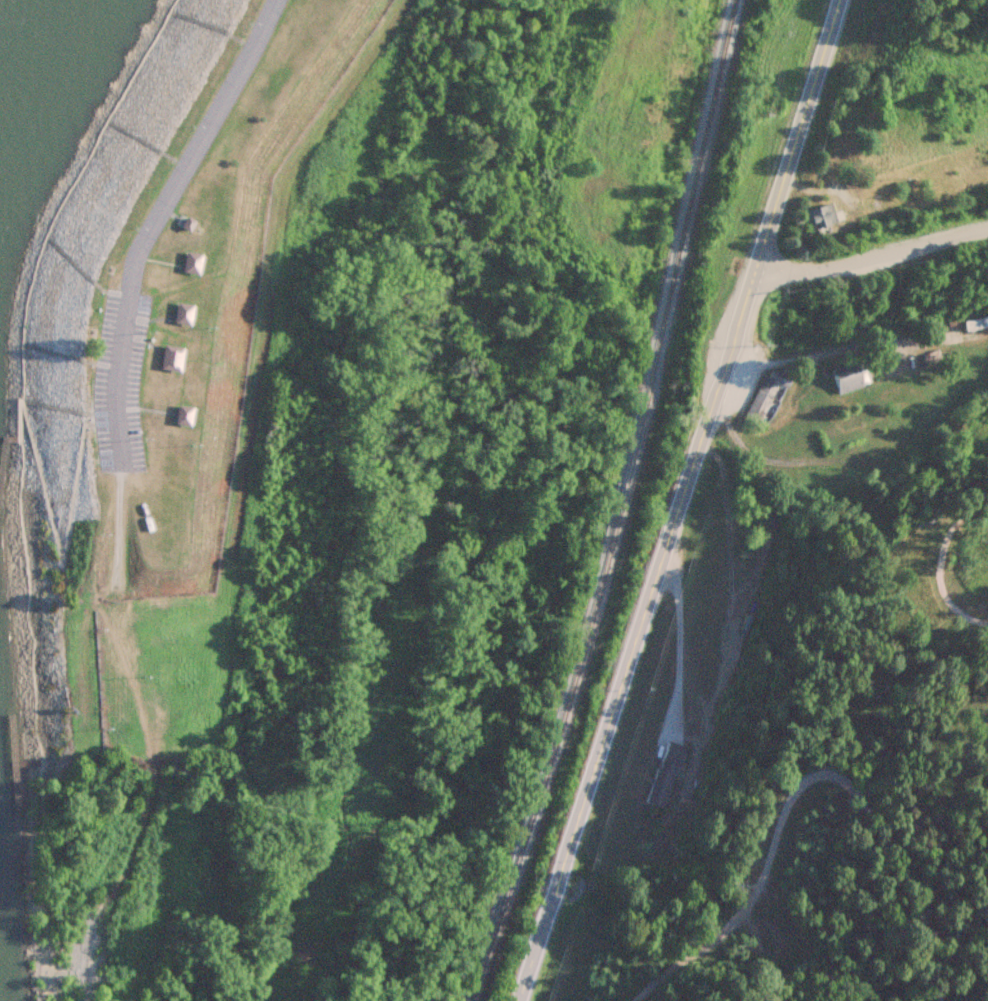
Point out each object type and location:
road: (159, 219)
road: (869, 257)
building: (200, 260)
building: (191, 311)
road: (817, 354)
building: (179, 355)
building: (191, 413)
road: (676, 500)
railway: (622, 507)
road: (942, 559)
road: (803, 779)

